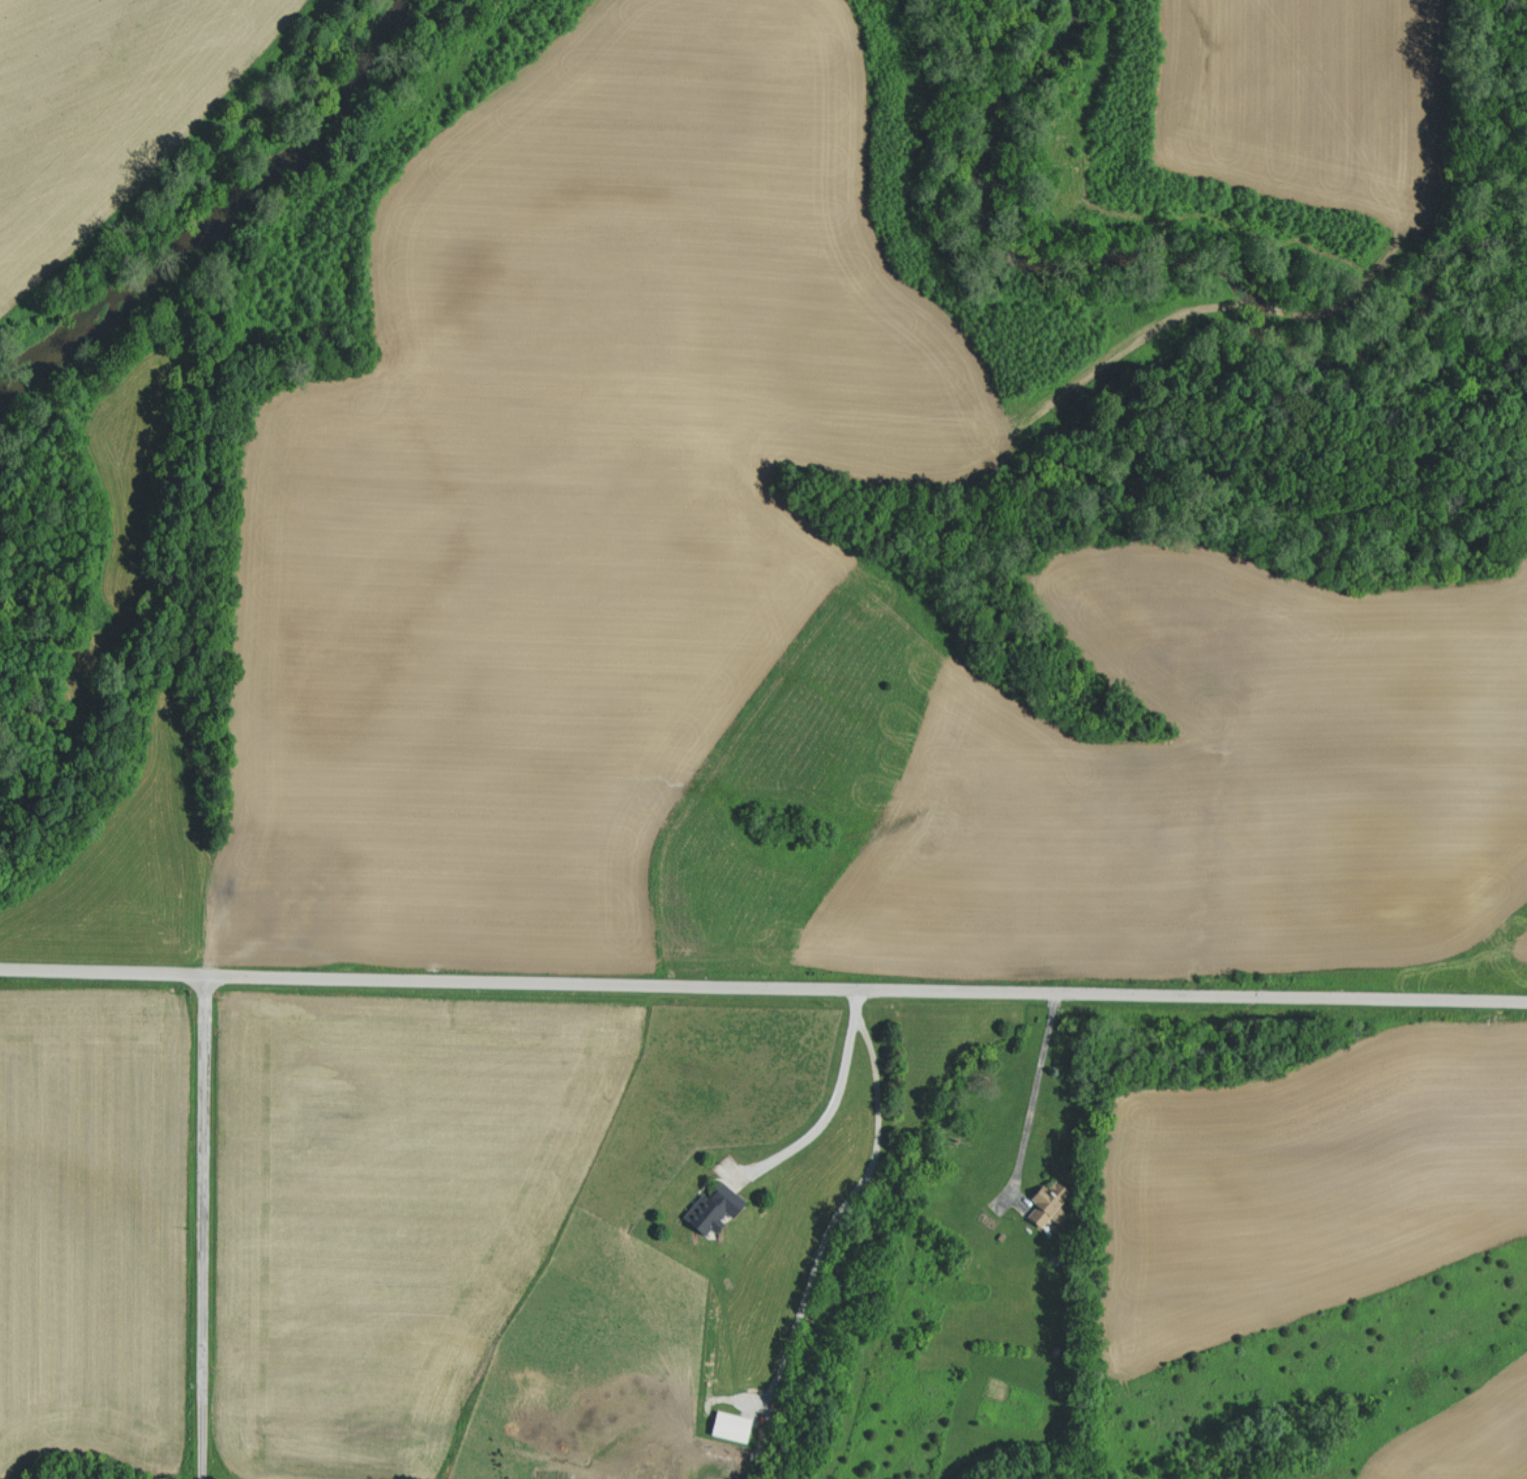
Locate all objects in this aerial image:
road: (103, 972)
road: (866, 987)
road: (829, 1109)
road: (846, 1198)
building: (717, 1207)
road: (202, 1228)
building: (735, 1425)

